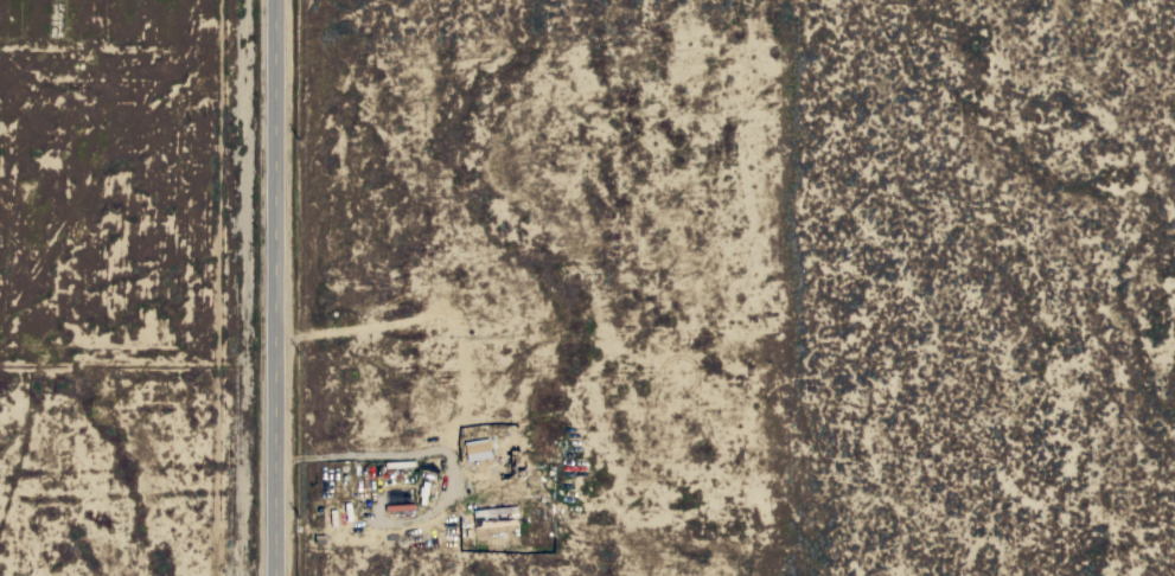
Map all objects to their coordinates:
road: (241, 288)

